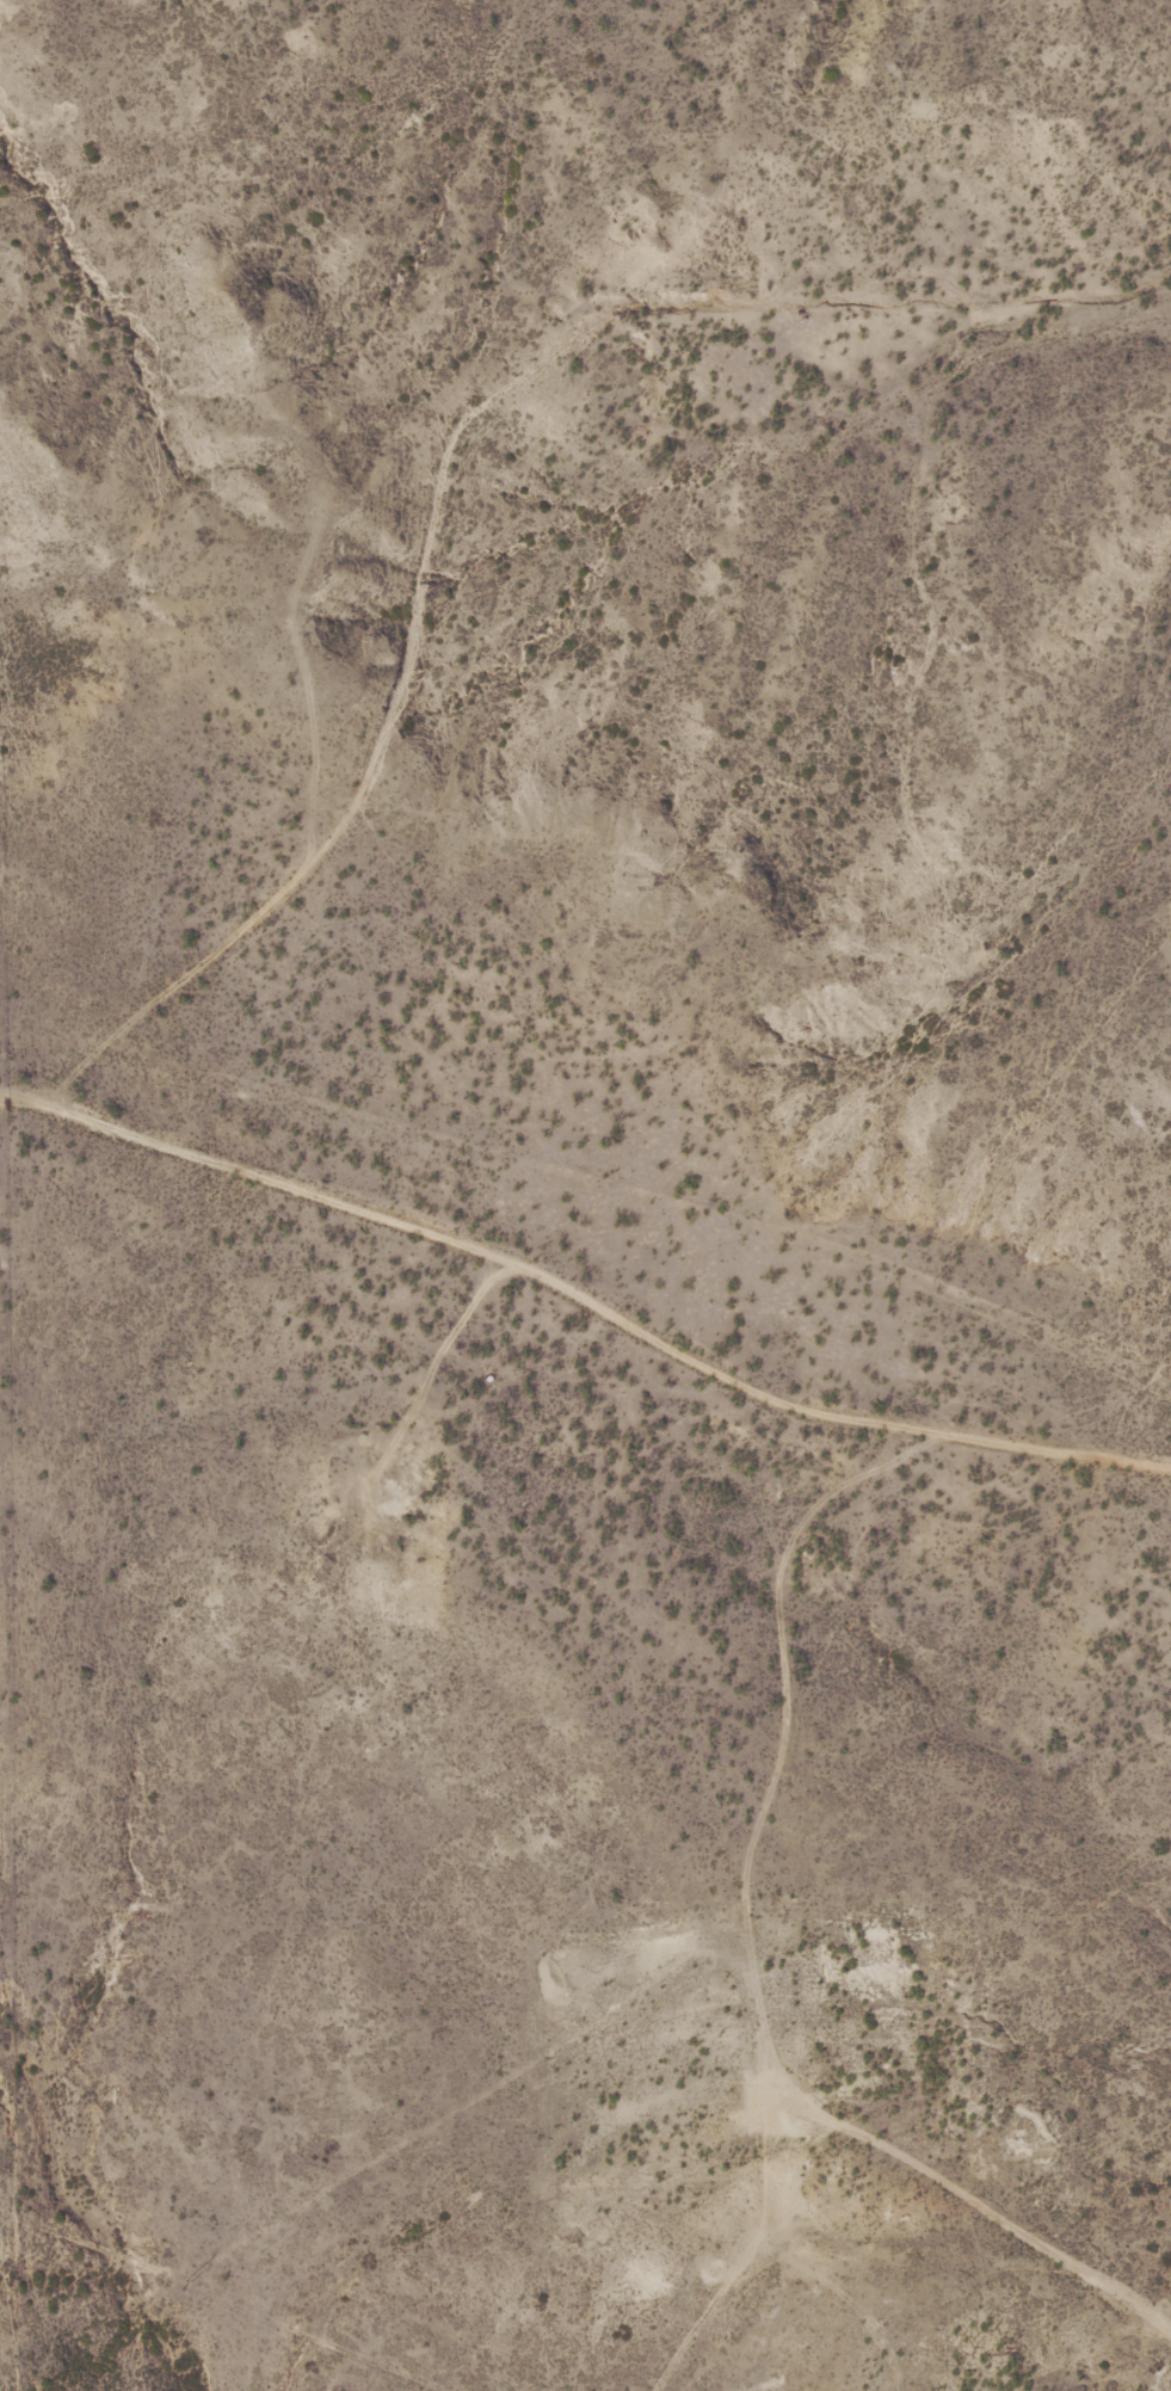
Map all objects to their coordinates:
power tower: (184, 2285)

